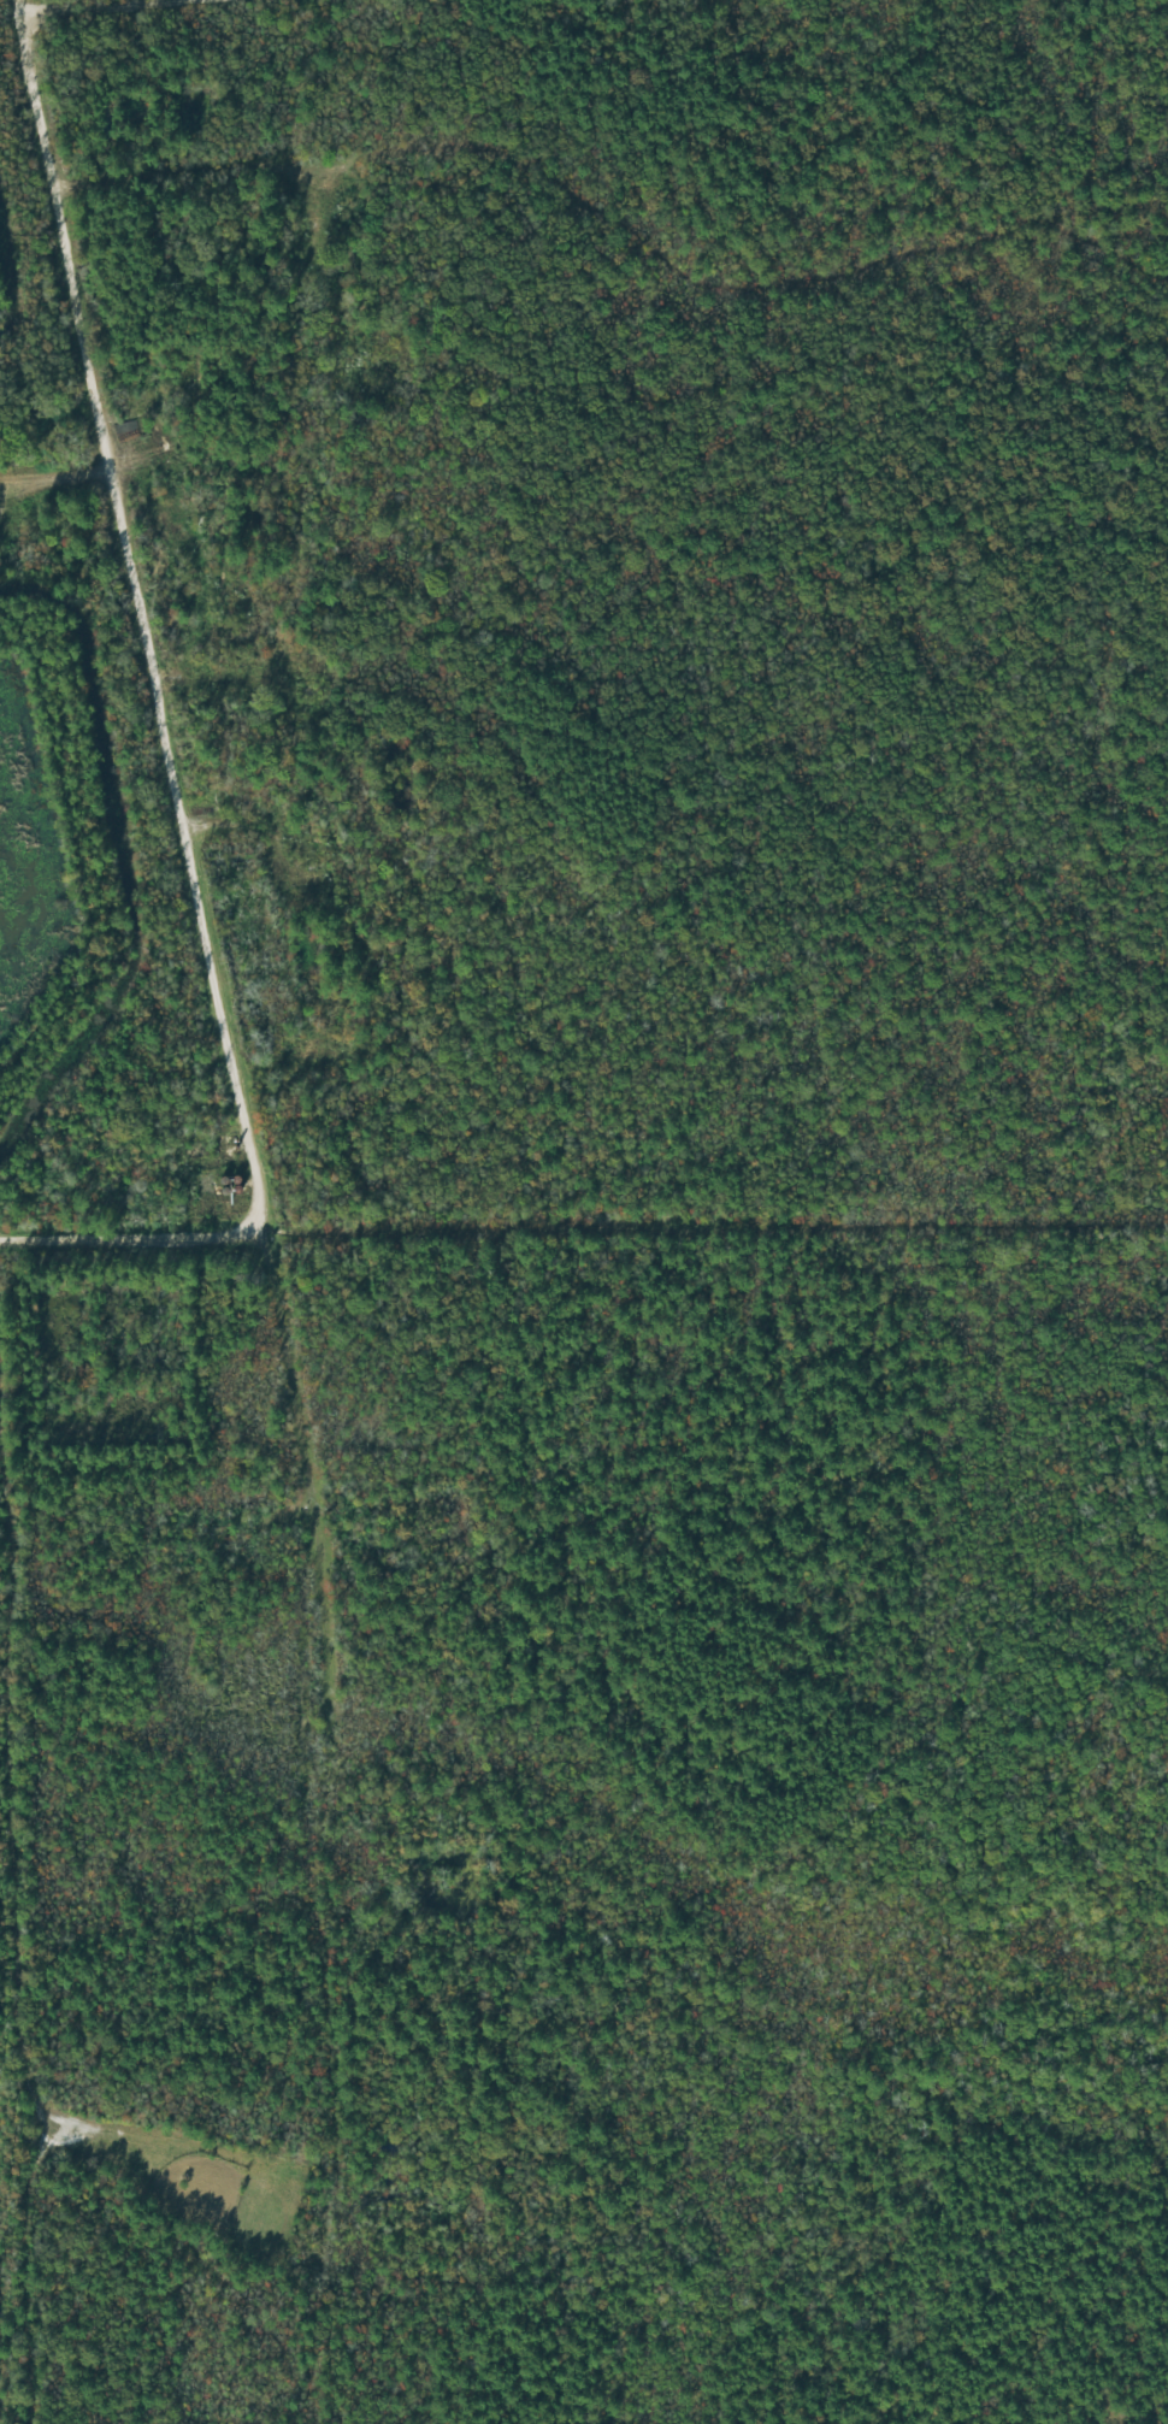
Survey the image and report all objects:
road: (185, 973)
road: (110, 1261)
road: (11, 1576)

